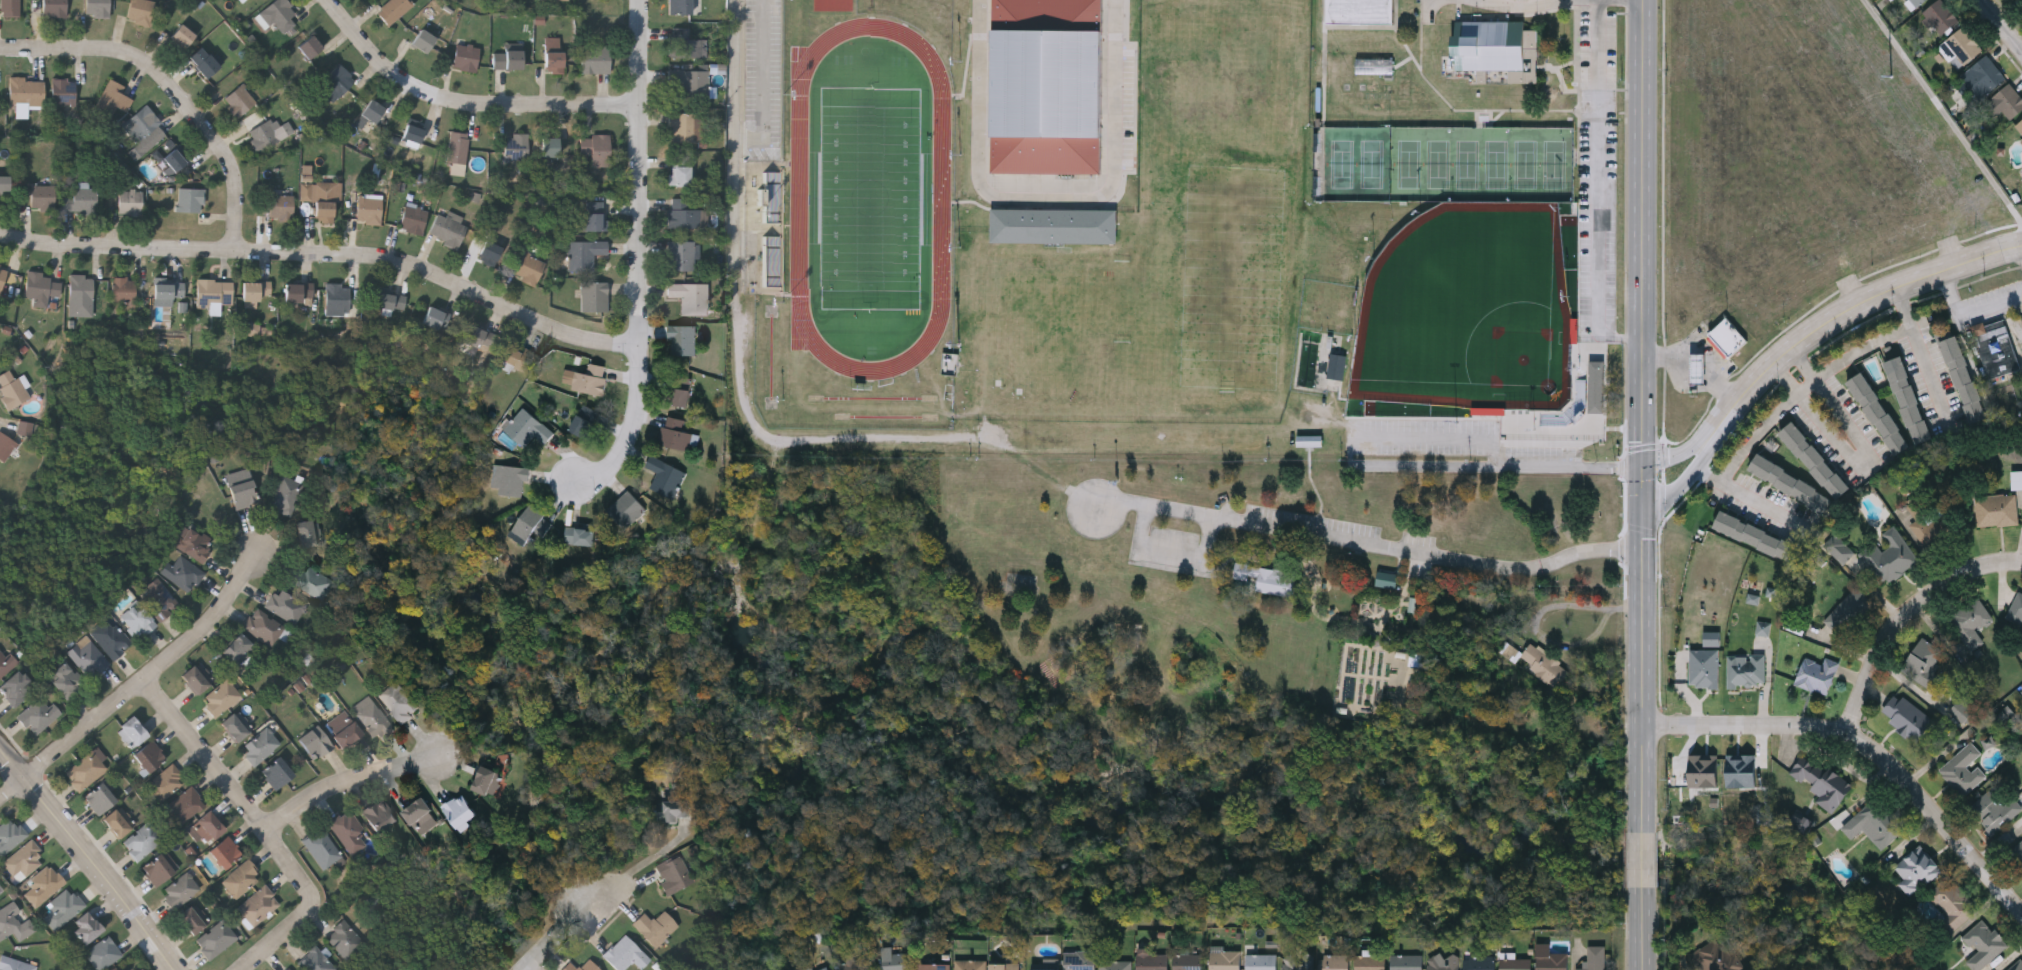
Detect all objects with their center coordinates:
building: (242, 0)
building: (555, 0)
building: (1916, 1)
building: (2020, 1)
building: (679, 6)
building: (9, 7)
building: (52, 7)
building: (96, 7)
road: (1523, 7)
building: (392, 9)
building: (139, 10)
building: (1361, 11)
building: (1939, 14)
building: (278, 15)
road: (2000, 25)
building: (179, 36)
building: (422, 40)
building: (553, 42)
building: (686, 43)
building: (1961, 43)
building: (308, 46)
building: (1497, 53)
building: (464, 56)
building: (594, 58)
building: (507, 59)
building: (202, 60)
building: (553, 60)
power tower: (1880, 74)
building: (1980, 75)
building: (690, 82)
road: (763, 83)
building: (334, 84)
road: (173, 87)
building: (1047, 87)
building: (25, 90)
building: (62, 90)
building: (112, 97)
building: (2007, 99)
building: (238, 100)
road: (466, 104)
building: (371, 110)
road: (1943, 111)
building: (139, 123)
building: (2019, 123)
building: (681, 127)
building: (413, 132)
building: (262, 134)
building: (2021, 141)
building: (549, 145)
building: (515, 146)
building: (456, 147)
building: (595, 148)
building: (137, 152)
building: (172, 160)
park: (1339, 162)
park: (1373, 162)
park: (1405, 162)
park: (1436, 162)
park: (1466, 162)
park: (1496, 162)
park: (1527, 163)
park: (1557, 163)
building: (458, 170)
building: (678, 170)
building: (3, 183)
road: (1599, 188)
park: (869, 195)
building: (41, 197)
building: (772, 197)
building: (325, 198)
building: (79, 199)
building: (189, 199)
road: (1046, 199)
building: (129, 202)
building: (280, 206)
building: (368, 208)
building: (683, 214)
building: (592, 216)
building: (412, 218)
building: (1055, 225)
building: (447, 228)
building: (488, 251)
building: (583, 253)
road: (328, 255)
building: (679, 255)
road: (642, 256)
building: (772, 262)
building: (528, 269)
building: (2, 273)
building: (39, 287)
building: (81, 287)
building: (122, 291)
building: (166, 291)
building: (296, 291)
building: (253, 292)
building: (212, 294)
building: (686, 295)
building: (592, 296)
building: (335, 299)
building: (388, 301)
park: (1472, 309)
road: (1846, 310)
road: (1970, 312)
building: (434, 318)
building: (259, 331)
building: (478, 338)
building: (1725, 338)
road: (1881, 338)
building: (681, 339)
building: (1995, 347)
road: (1704, 350)
building: (515, 356)
road: (1803, 362)
building: (1337, 366)
building: (1697, 367)
road: (1929, 372)
road: (1788, 375)
building: (585, 378)
building: (1963, 378)
road: (1807, 385)
building: (1596, 386)
building: (11, 389)
road: (743, 394)
building: (680, 396)
building: (1908, 399)
building: (1878, 412)
road: (1644, 416)
building: (583, 420)
building: (525, 427)
building: (25, 428)
road: (1756, 430)
building: (673, 434)
building: (5, 446)
road: (1678, 453)
traffic signals: (1644, 455)
building: (1814, 459)
road: (1865, 461)
road: (1403, 466)
building: (663, 474)
building: (509, 477)
building: (2016, 479)
building: (1790, 482)
road: (1681, 484)
road: (1751, 494)
building: (242, 495)
building: (283, 496)
building: (208, 507)
building: (625, 509)
building: (1995, 510)
parking lot: (1313, 521)
building: (1928, 522)
building: (529, 523)
traffic signals: (1643, 525)
building: (307, 534)
building: (579, 535)
building: (1756, 536)
parking lot: (1418, 540)
road: (1368, 544)
building: (193, 545)
building: (1838, 547)
parking lot: (1172, 548)
road: (1172, 549)
building: (1888, 556)
building: (182, 575)
building: (1268, 579)
building: (1387, 579)
building: (313, 582)
building: (158, 601)
building: (284, 606)
building: (2016, 607)
building: (1847, 610)
road: (1538, 616)
road: (1906, 617)
building: (1970, 617)
building: (136, 622)
building: (262, 628)
building: (1763, 628)
building: (110, 640)
building: (1711, 641)
building: (237, 650)
building: (87, 659)
building: (1537, 661)
building: (1922, 662)
building: (5, 663)
park: (877, 664)
building: (1704, 669)
building: (1744, 669)
building: (1816, 672)
building: (64, 680)
building: (194, 681)
road: (137, 685)
building: (16, 689)
building: (220, 699)
building: (398, 702)
building: (1964, 709)
building: (39, 716)
building: (1906, 716)
building: (370, 718)
building: (232, 728)
building: (131, 733)
building: (347, 736)
road: (1867, 743)
building: (1988, 743)
building: (314, 744)
building: (259, 747)
building: (149, 757)
building: (1963, 769)
building: (1703, 770)
building: (1741, 770)
building: (84, 772)
building: (276, 774)
road: (348, 781)
building: (485, 782)
building: (1822, 782)
building: (165, 783)
road: (230, 784)
building: (99, 800)
building: (183, 807)
building: (674, 808)
building: (458, 811)
building: (1994, 811)
building: (418, 813)
building: (379, 817)
building: (1801, 822)
building: (1878, 822)
building: (117, 823)
building: (206, 829)
building: (349, 832)
building: (9, 836)
building: (142, 841)
building: (321, 850)
building: (2017, 853)
building: (224, 854)
road: (91, 857)
road: (644, 860)
road: (1643, 861)
building: (23, 862)
building: (159, 869)
building: (1916, 869)
building: (672, 873)
building: (241, 880)
building: (42, 884)
building: (1, 890)
building: (179, 891)
building: (1952, 903)
building: (258, 907)
building: (61, 910)
building: (190, 922)
building: (13, 924)
building: (654, 926)
building: (85, 929)
road: (1643, 929)
road: (562, 934)
road: (284, 935)
building: (215, 940)
building: (344, 941)
building: (1983, 944)
building: (625, 953)
building: (102, 954)
building: (1715, 956)
building: (1594, 957)
building: (894, 959)
building: (1079, 959)
building: (1224, 959)
building: (1551, 959)
building: (1260, 960)
building: (314, 961)
building: (855, 961)
building: (1151, 961)
building: (1187, 961)
building: (1334, 961)
building: (1370, 961)
building: (1405, 961)
building: (1442, 961)
building: (1479, 961)
building: (1296, 962)
building: (1045, 963)
building: (1515, 963)
building: (970, 964)
building: (1115, 964)
building: (13, 965)
building: (580, 965)
building: (1004, 965)
building: (2016, 965)
building: (933, 966)
building: (823, 968)
building: (143, 969)
building: (288, 969)

